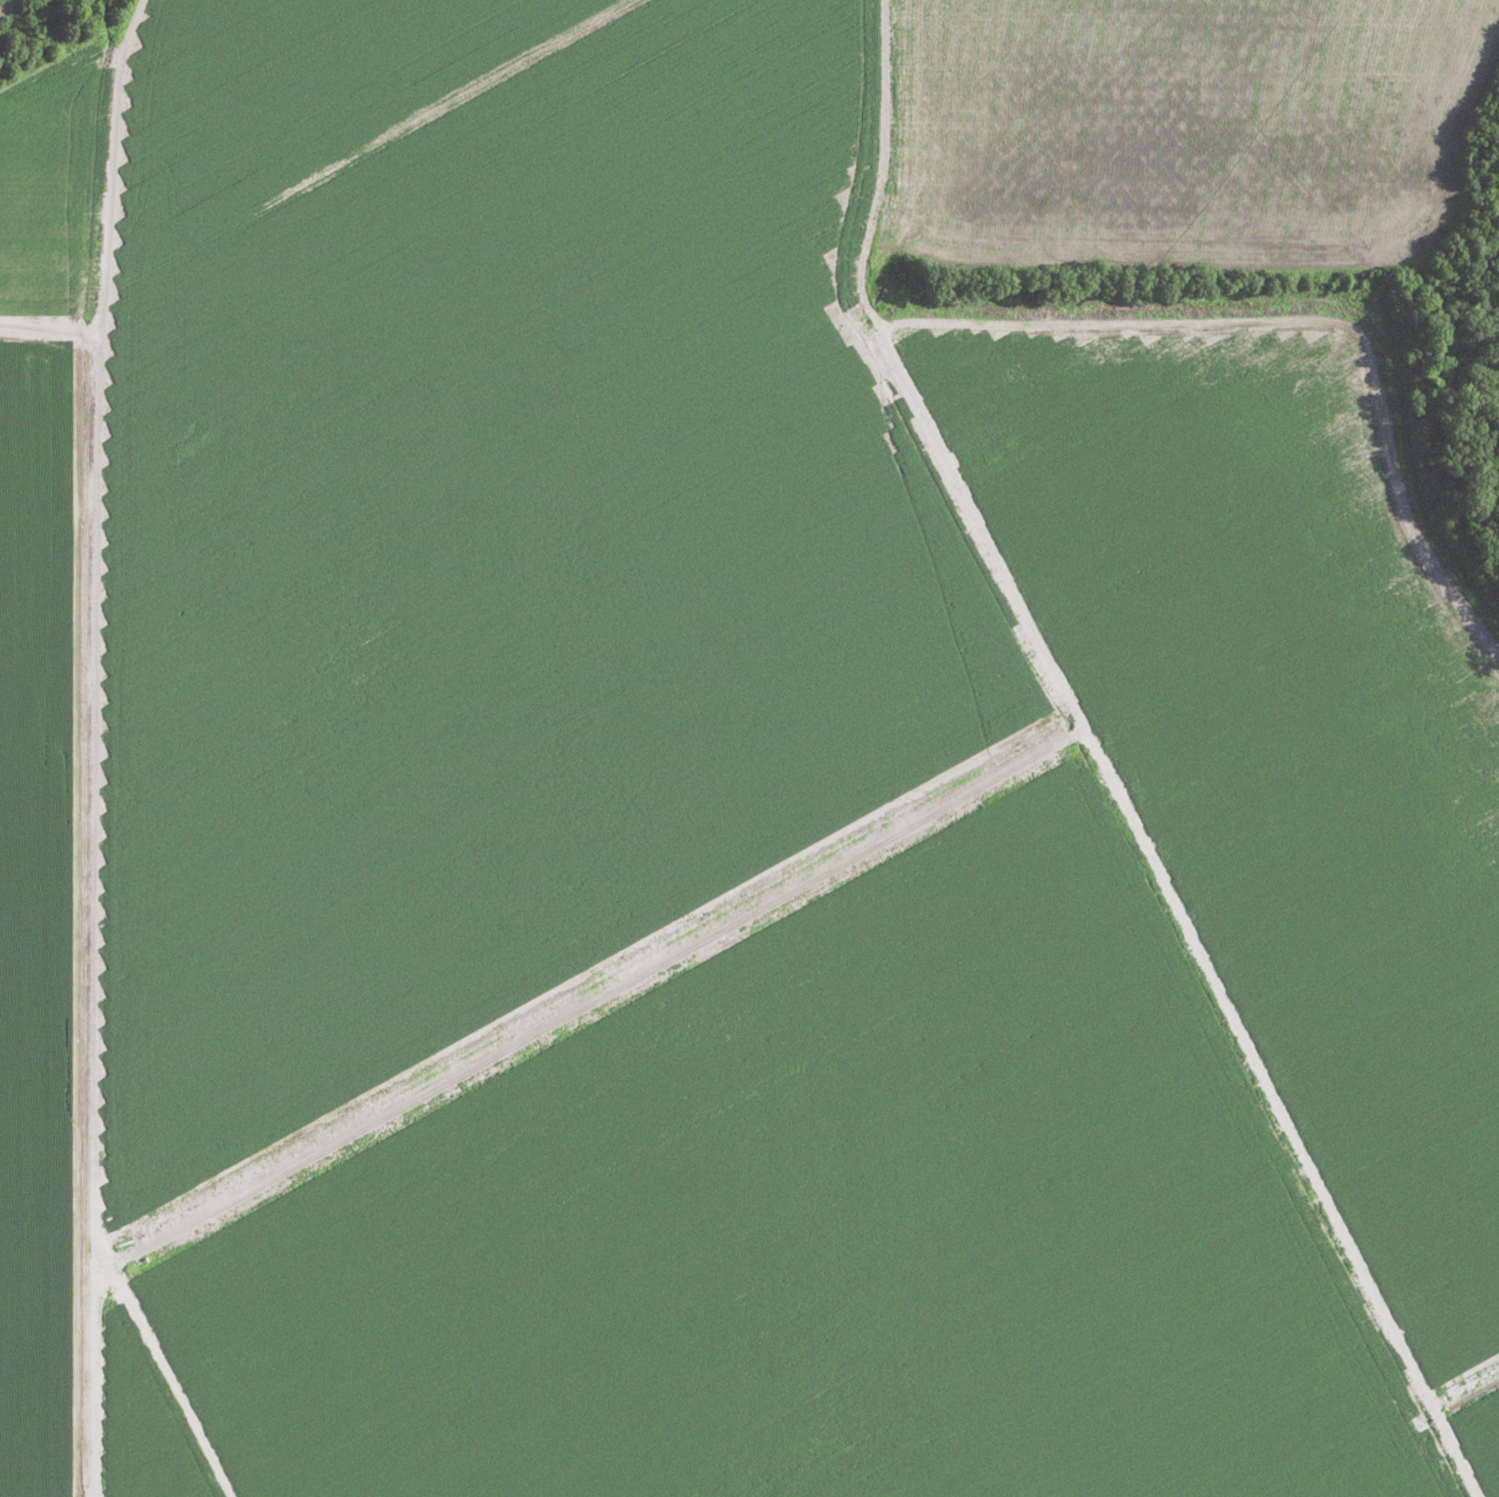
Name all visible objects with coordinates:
road: (77, 373)
road: (876, 503)
road: (79, 990)

